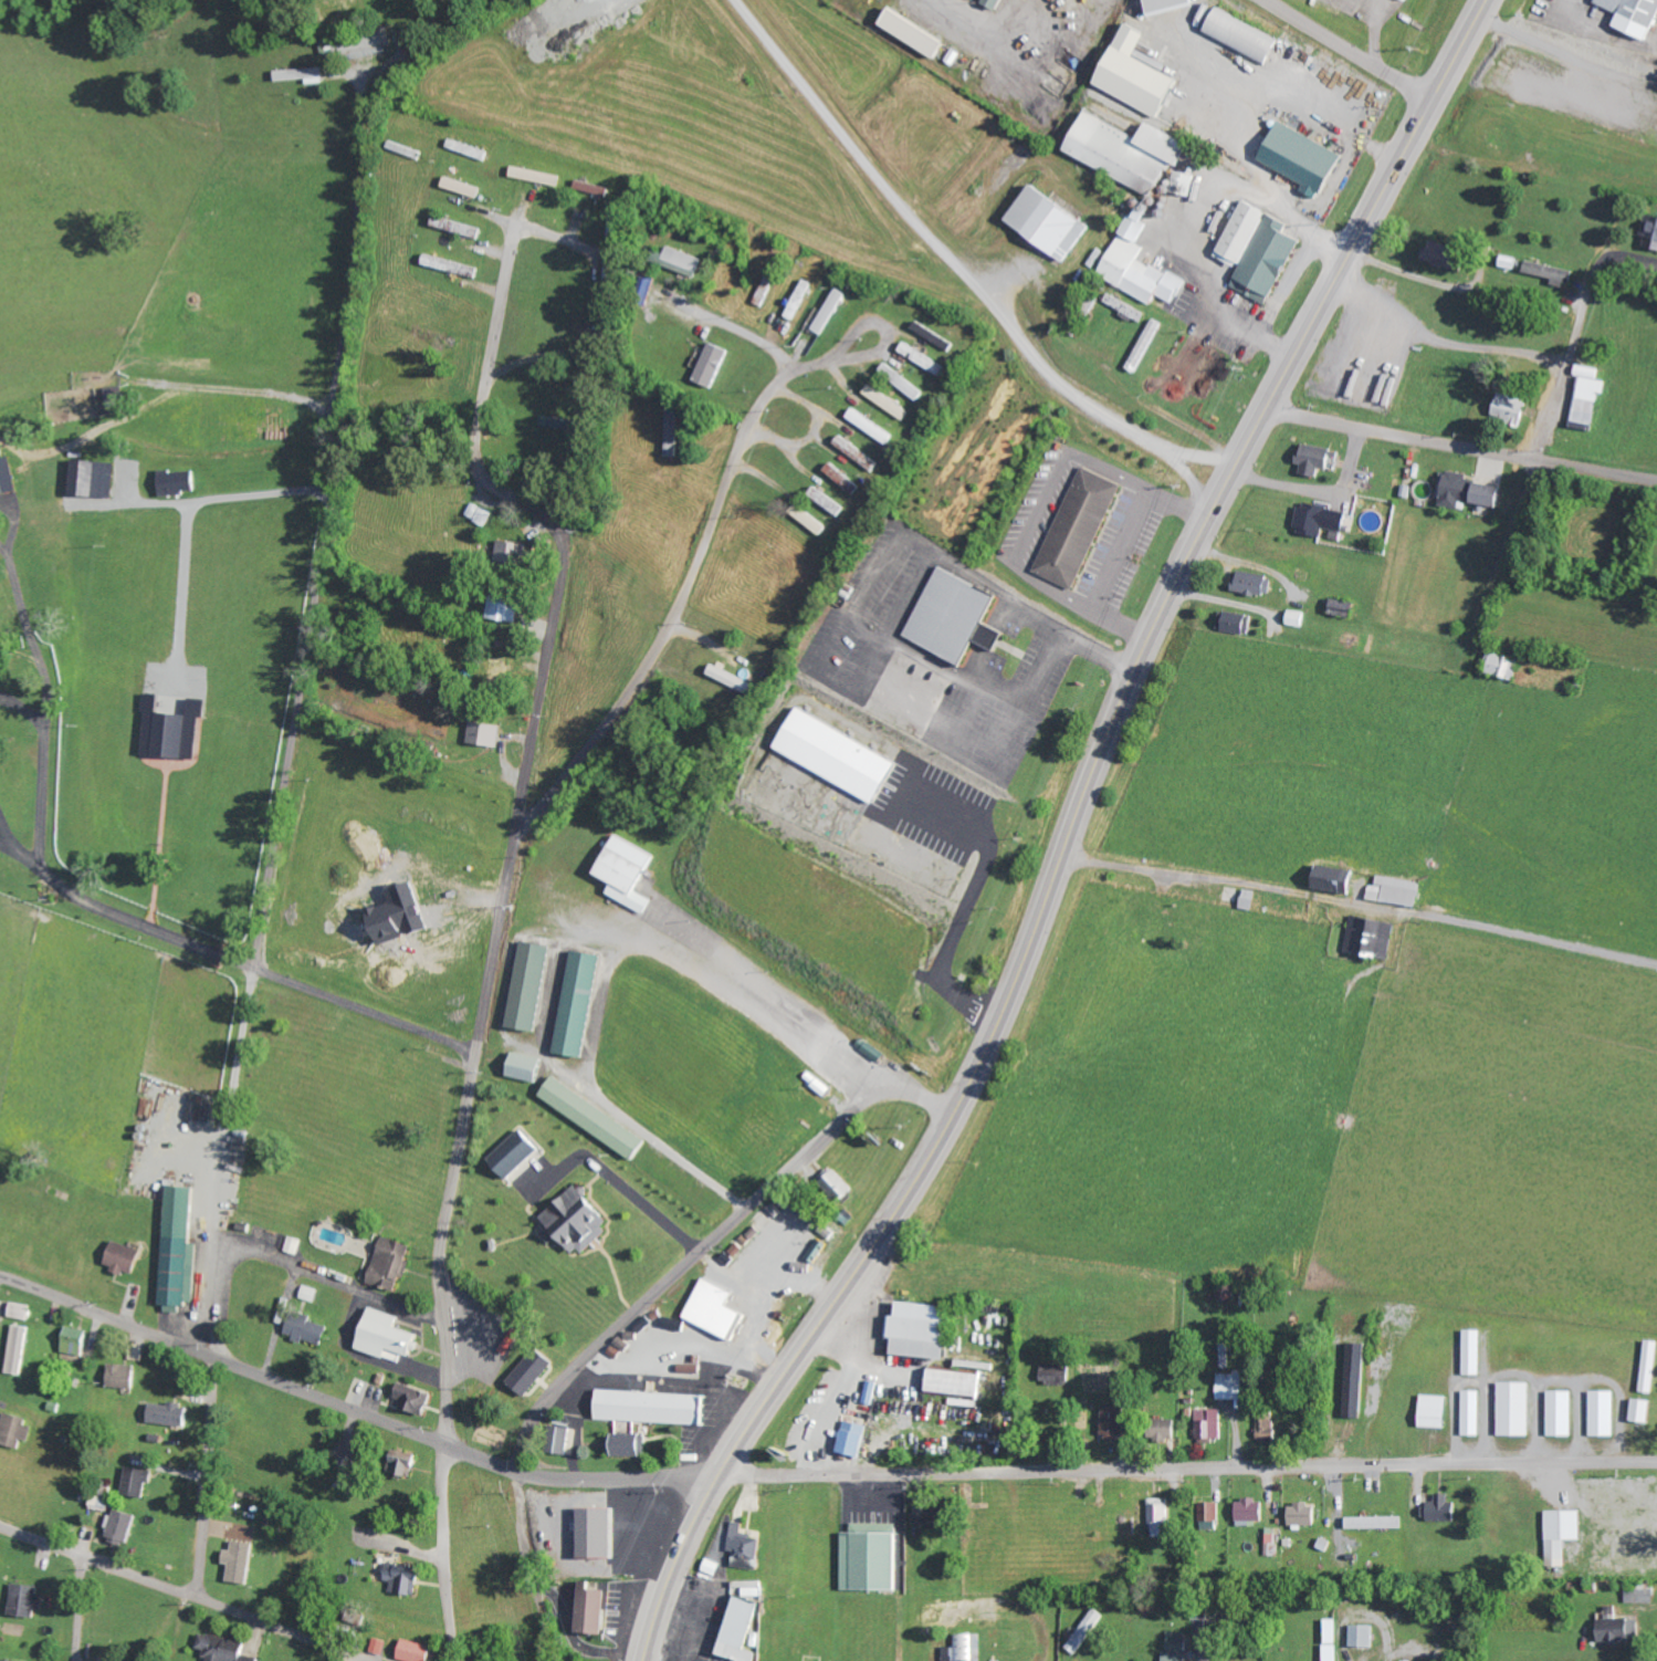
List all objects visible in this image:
building: (998, 3)
building: (1172, 6)
building: (1635, 15)
building: (917, 34)
building: (1246, 36)
road: (1351, 50)
building: (304, 75)
building: (471, 149)
building: (1133, 152)
building: (1305, 158)
building: (538, 176)
building: (465, 187)
building: (594, 187)
building: (616, 222)
building: (1053, 222)
building: (459, 227)
building: (1651, 232)
building: (1262, 251)
building: (1449, 255)
building: (684, 261)
building: (1142, 264)
building: (453, 265)
building: (1552, 272)
building: (799, 299)
building: (1126, 307)
road: (726, 326)
building: (936, 335)
building: (1149, 344)
road: (873, 352)
building: (925, 359)
building: (713, 365)
building: (903, 382)
building: (118, 397)
building: (1585, 397)
building: (889, 401)
road: (1552, 406)
building: (1512, 407)
building: (560, 422)
building: (872, 426)
building: (674, 429)
road: (1459, 449)
building: (858, 452)
building: (1317, 459)
building: (8, 474)
building: (98, 478)
building: (843, 478)
building: (181, 482)
building: (1471, 491)
building: (828, 501)
building: (1323, 520)
building: (1080, 527)
road: (326, 537)
building: (512, 551)
building: (1255, 583)
road: (684, 595)
building: (1349, 607)
building: (506, 608)
building: (958, 616)
building: (1300, 618)
building: (1238, 621)
building: (1504, 666)
road: (543, 670)
building: (735, 679)
building: (176, 730)
building: (486, 733)
building: (841, 755)
road: (1070, 833)
building: (630, 874)
building: (1338, 879)
building: (1398, 890)
road: (1359, 905)
building: (402, 912)
building: (1372, 937)
road: (266, 973)
building: (533, 986)
building: (581, 1003)
building: (531, 1067)
building: (598, 1118)
building: (518, 1153)
building: (840, 1184)
building: (579, 1221)
road: (711, 1241)
building: (295, 1245)
building: (182, 1249)
building: (128, 1258)
building: (392, 1264)
building: (1228, 1292)
building: (311, 1294)
building: (720, 1310)
building: (22, 1312)
building: (308, 1328)
building: (923, 1330)
building: (391, 1337)
building: (78, 1341)
building: (21, 1349)
building: (1475, 1352)
building: (1650, 1368)
building: (536, 1371)
building: (1058, 1375)
building: (125, 1376)
building: (1357, 1380)
building: (959, 1383)
building: (1233, 1386)
building: (872, 1392)
building: (416, 1399)
building: (658, 1408)
building: (1517, 1409)
road: (353, 1410)
building: (1436, 1411)
building: (1645, 1411)
building: (1472, 1413)
building: (1562, 1413)
building: (1604, 1413)
building: (170, 1414)
building: (1118, 1422)
building: (1212, 1424)
building: (1267, 1424)
building: (18, 1429)
building: (1168, 1429)
building: (856, 1439)
building: (564, 1440)
building: (630, 1445)
road: (1188, 1470)
road: (207, 1479)
building: (140, 1482)
building: (1444, 1509)
building: (1252, 1511)
building: (1212, 1512)
building: (1304, 1515)
building: (1161, 1516)
building: (944, 1522)
building: (1377, 1523)
building: (123, 1527)
building: (601, 1534)
building: (1565, 1534)
building: (747, 1548)
road: (444, 1553)
building: (874, 1557)
building: (242, 1563)
building: (407, 1579)
road: (178, 1594)
building: (1642, 1596)
building: (28, 1600)
building: (992, 1603)
building: (596, 1610)
building: (952, 1615)
building: (993, 1616)
building: (1621, 1627)
building: (742, 1630)
building: (1088, 1631)
building: (1365, 1637)
building: (1333, 1640)
building: (1177, 1647)
building: (224, 1648)
building: (966, 1649)
building: (420, 1651)
building: (2, 1660)

